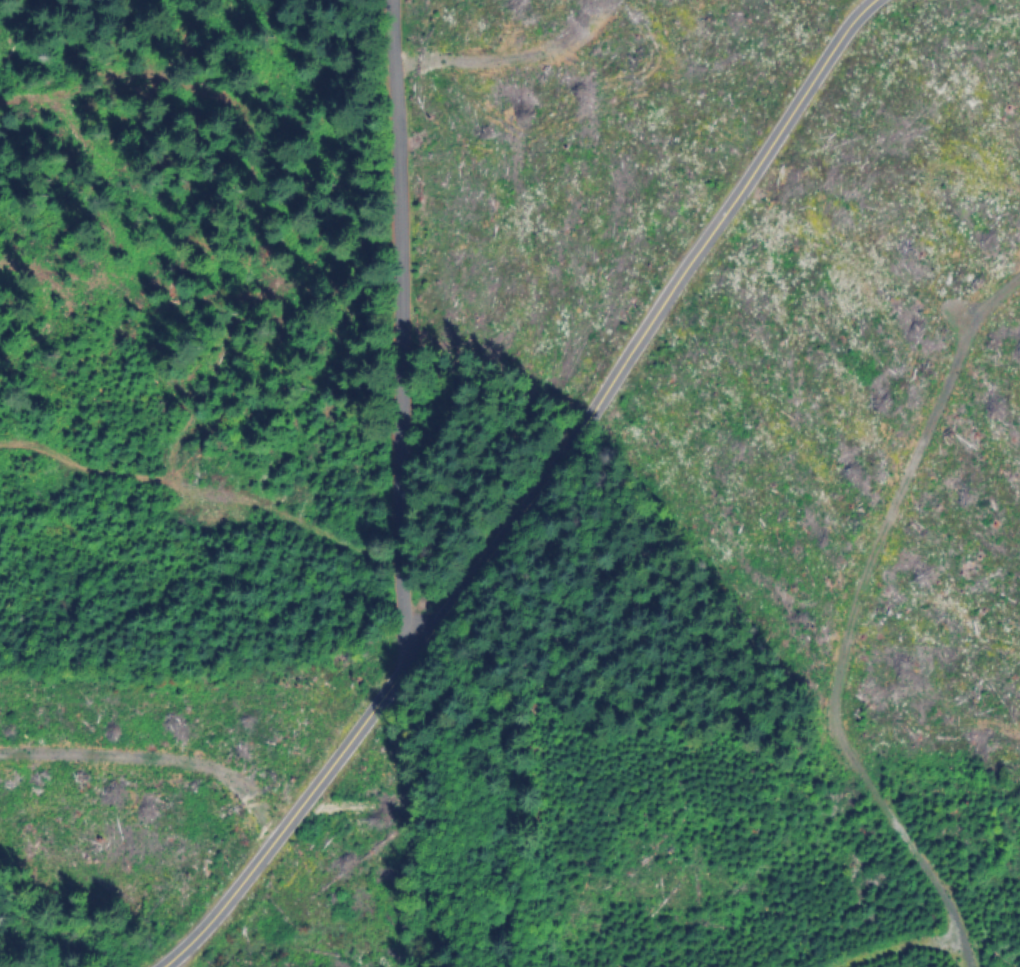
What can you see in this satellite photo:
road: (401, 330)
road: (529, 494)

